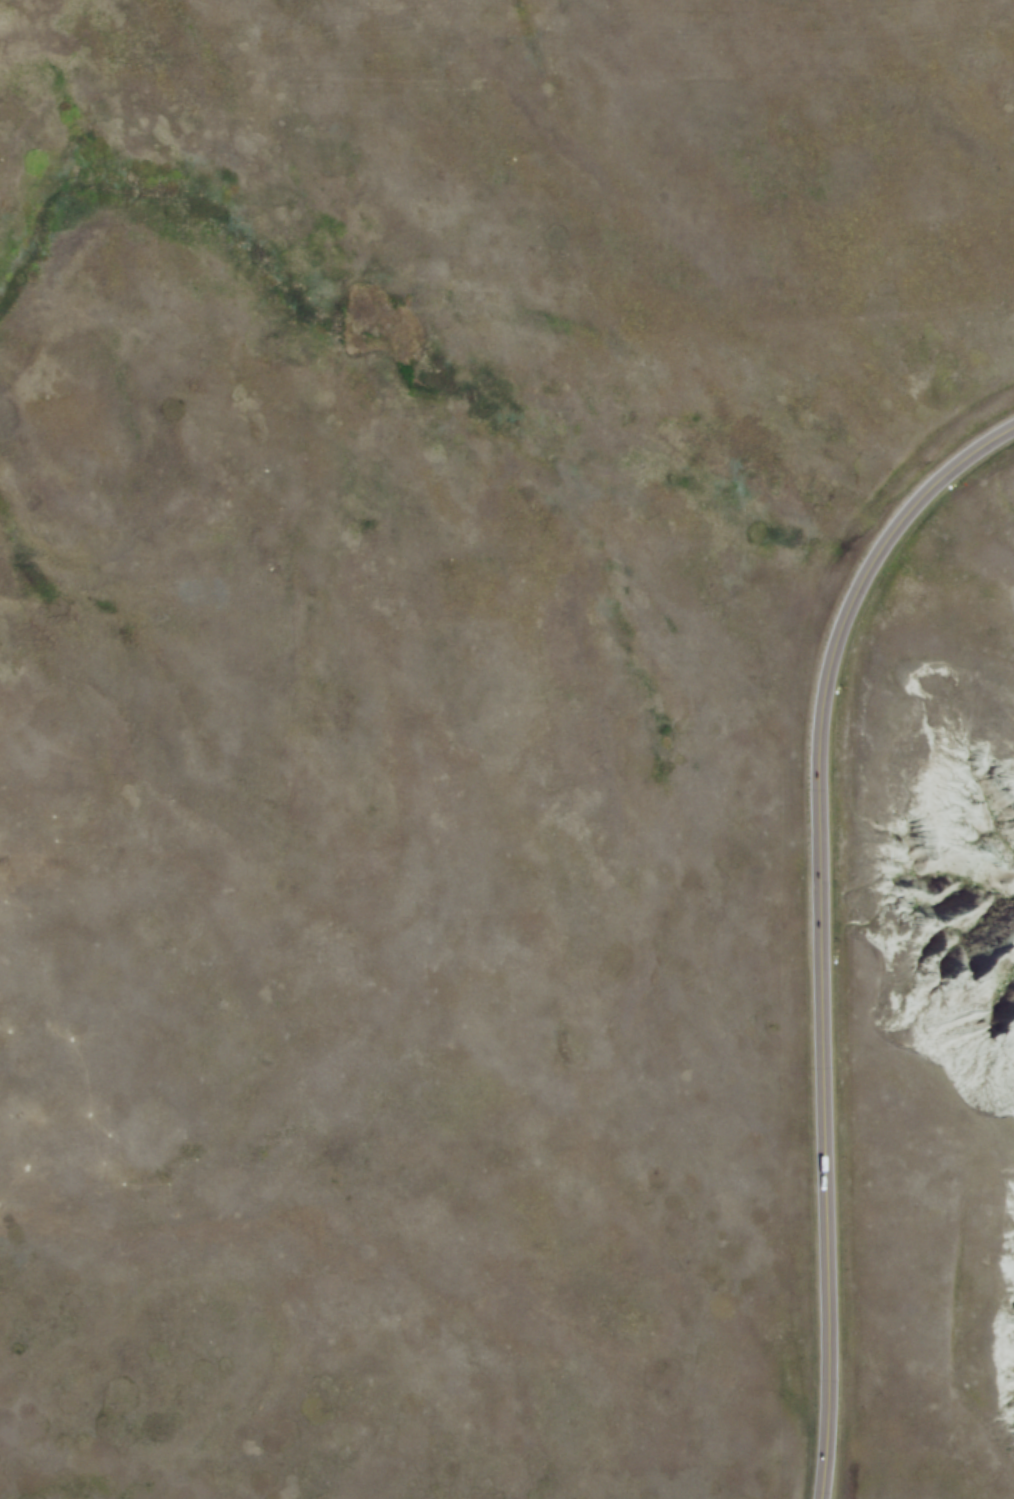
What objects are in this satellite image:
road: (816, 920)

